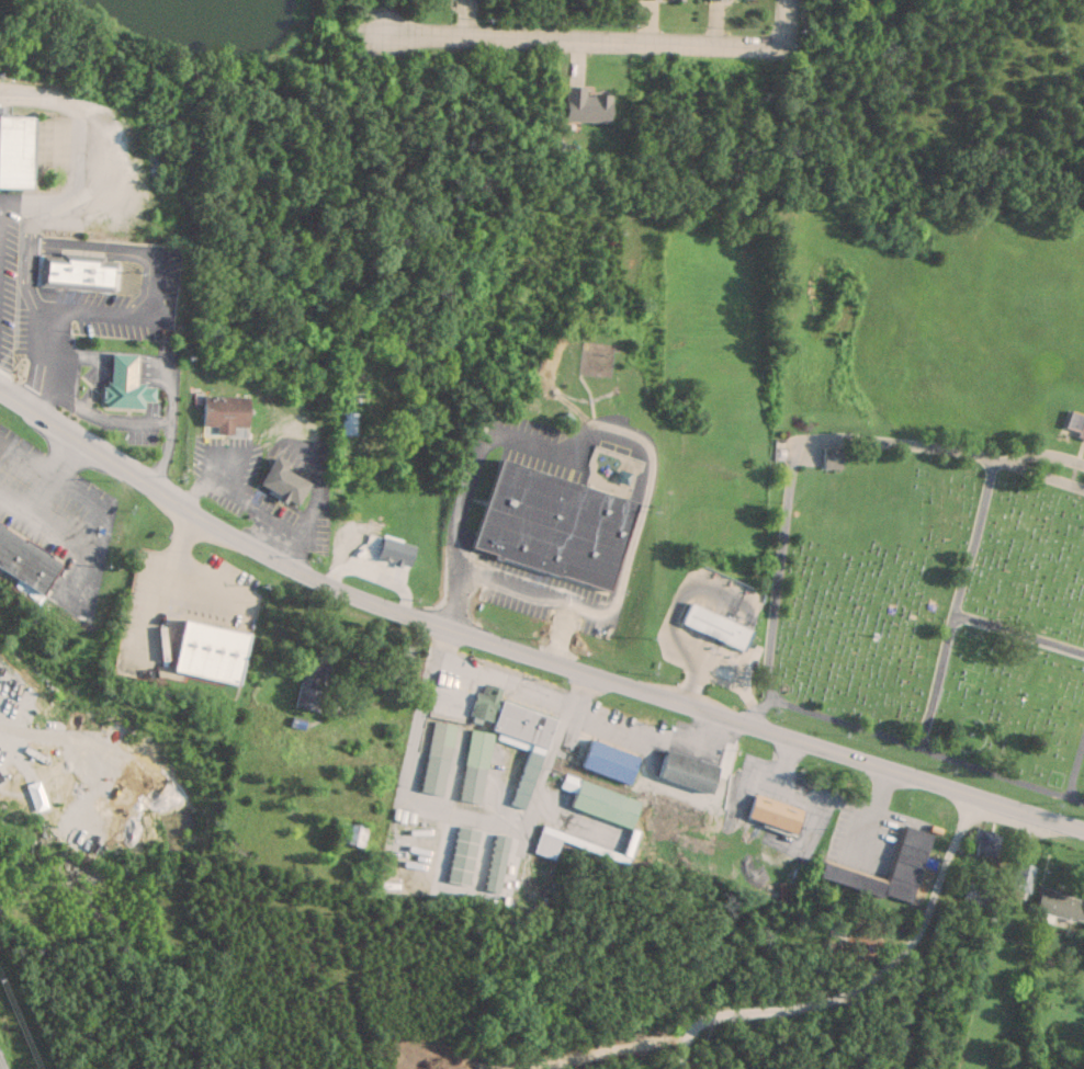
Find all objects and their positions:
building: (665, 0)
road: (779, 23)
road: (581, 38)
building: (586, 106)
building: (14, 150)
parking lot: (9, 270)
building: (77, 271)
building: (124, 384)
building: (351, 408)
building: (1074, 423)
road: (629, 436)
road: (942, 448)
building: (831, 457)
building: (281, 480)
park: (925, 485)
road: (244, 499)
building: (552, 524)
road: (976, 541)
building: (25, 559)
road: (779, 583)
road: (956, 615)
building: (715, 625)
building: (207, 651)
road: (522, 652)
building: (310, 682)
building: (515, 733)
road: (650, 737)
road: (925, 746)
building: (437, 757)
building: (608, 760)
building: (474, 765)
building: (687, 771)
road: (1077, 773)
building: (600, 800)
road: (461, 810)
building: (774, 811)
building: (350, 833)
building: (985, 842)
building: (545, 844)
building: (461, 854)
building: (495, 862)
building: (836, 868)
building: (1021, 876)
building: (979, 890)
building: (1060, 905)
road: (866, 985)

